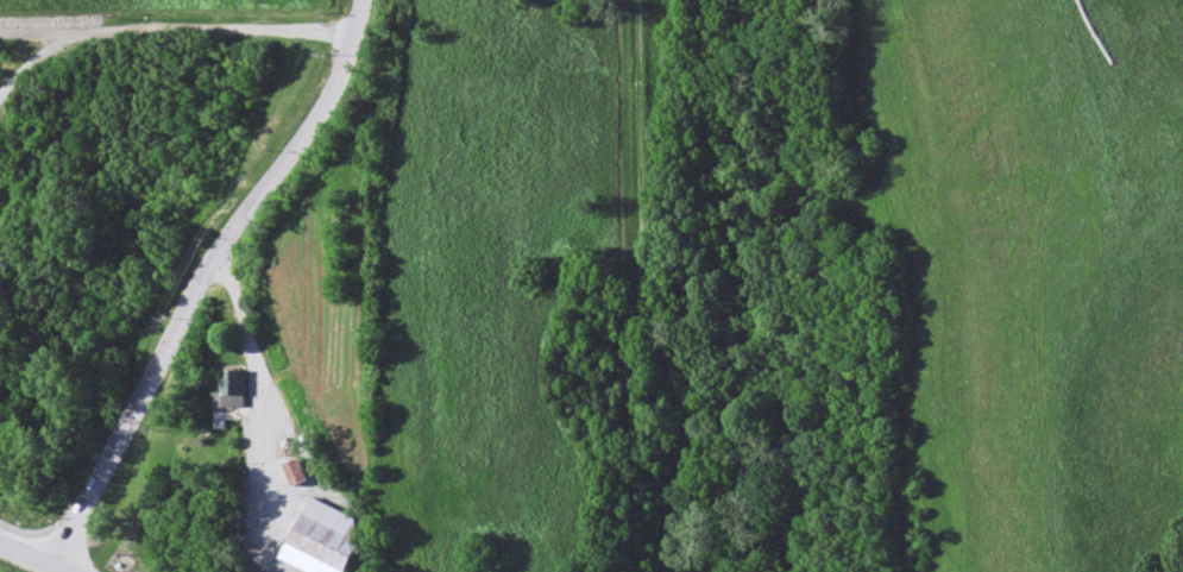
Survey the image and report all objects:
road: (177, 25)
road: (34, 57)
road: (204, 276)
road: (30, 552)
road: (65, 568)

